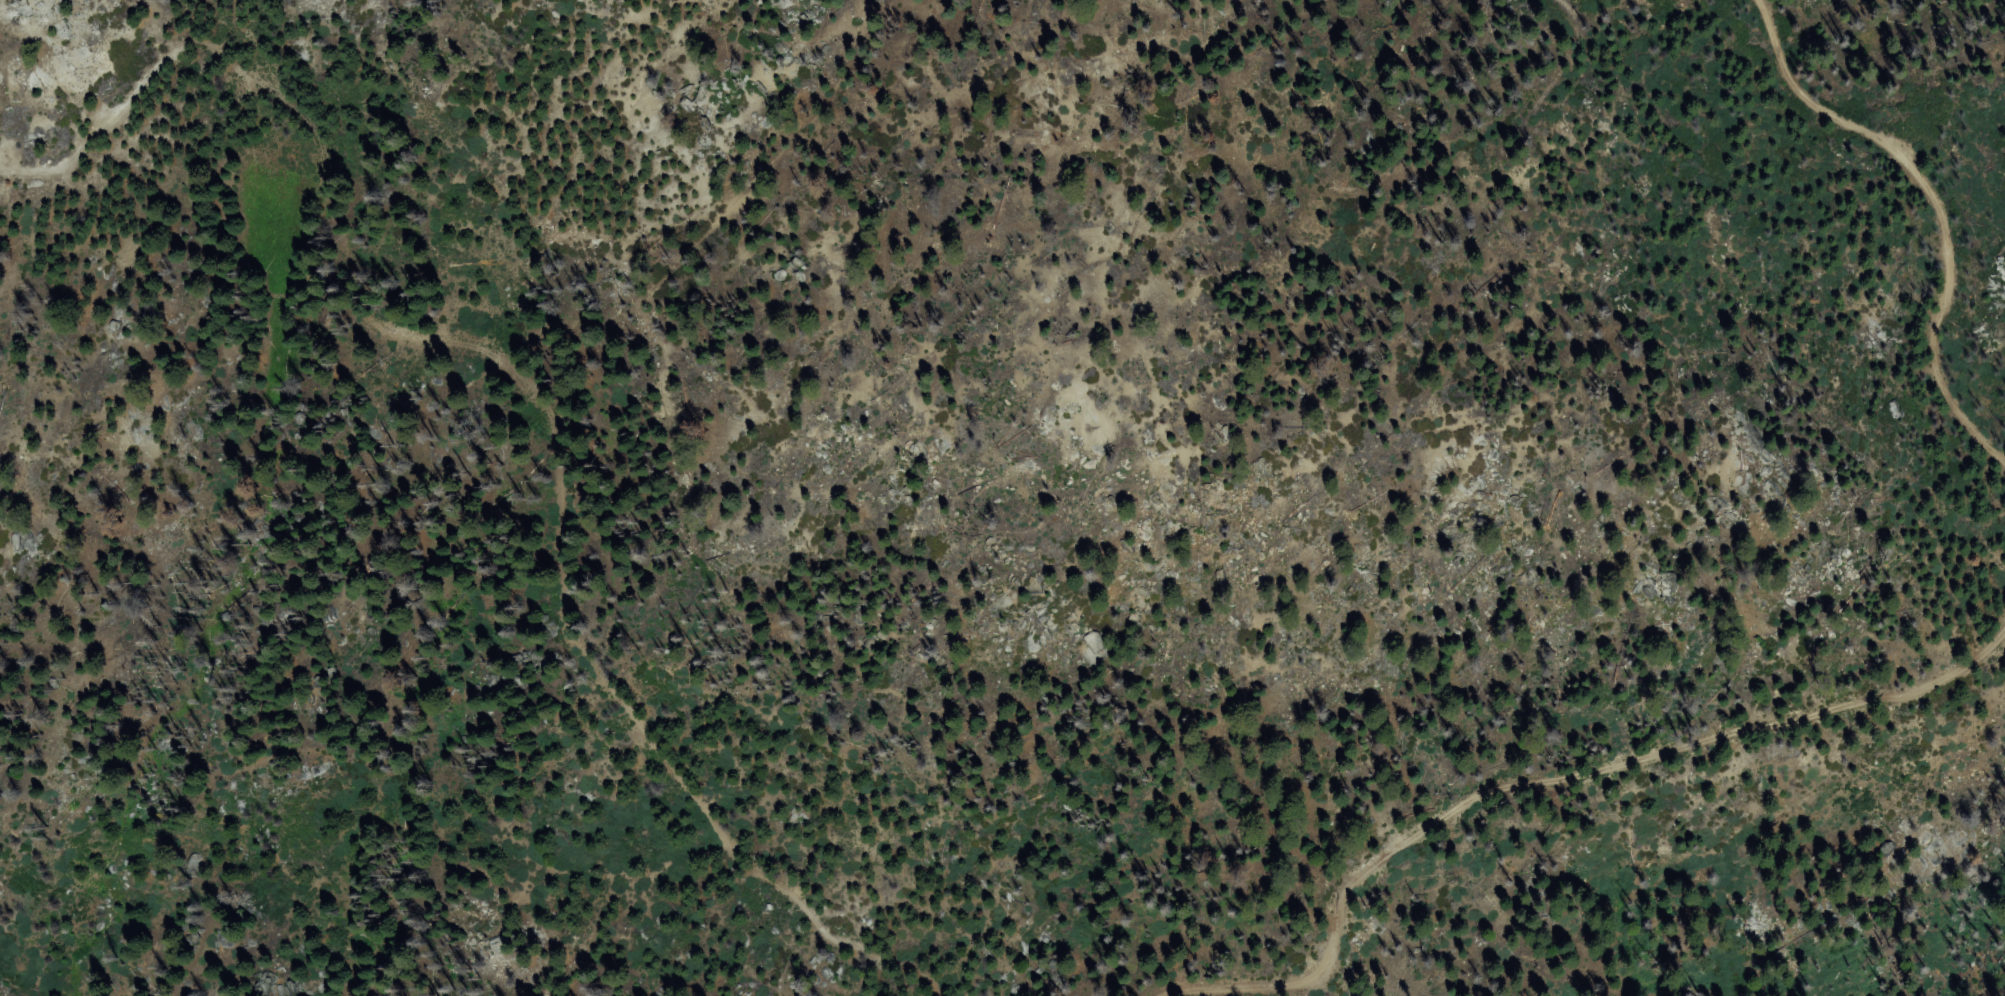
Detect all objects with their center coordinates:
road: (1938, 207)
road: (1550, 781)

